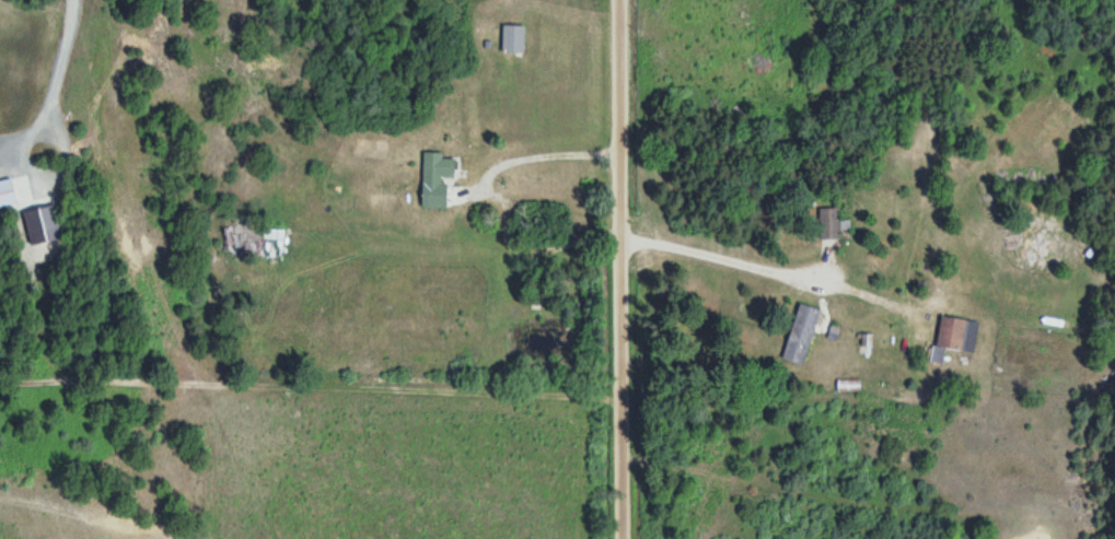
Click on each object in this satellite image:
building: (509, 38)
building: (432, 179)
building: (5, 194)
building: (827, 223)
building: (248, 241)
road: (605, 269)
building: (798, 335)
building: (951, 337)

